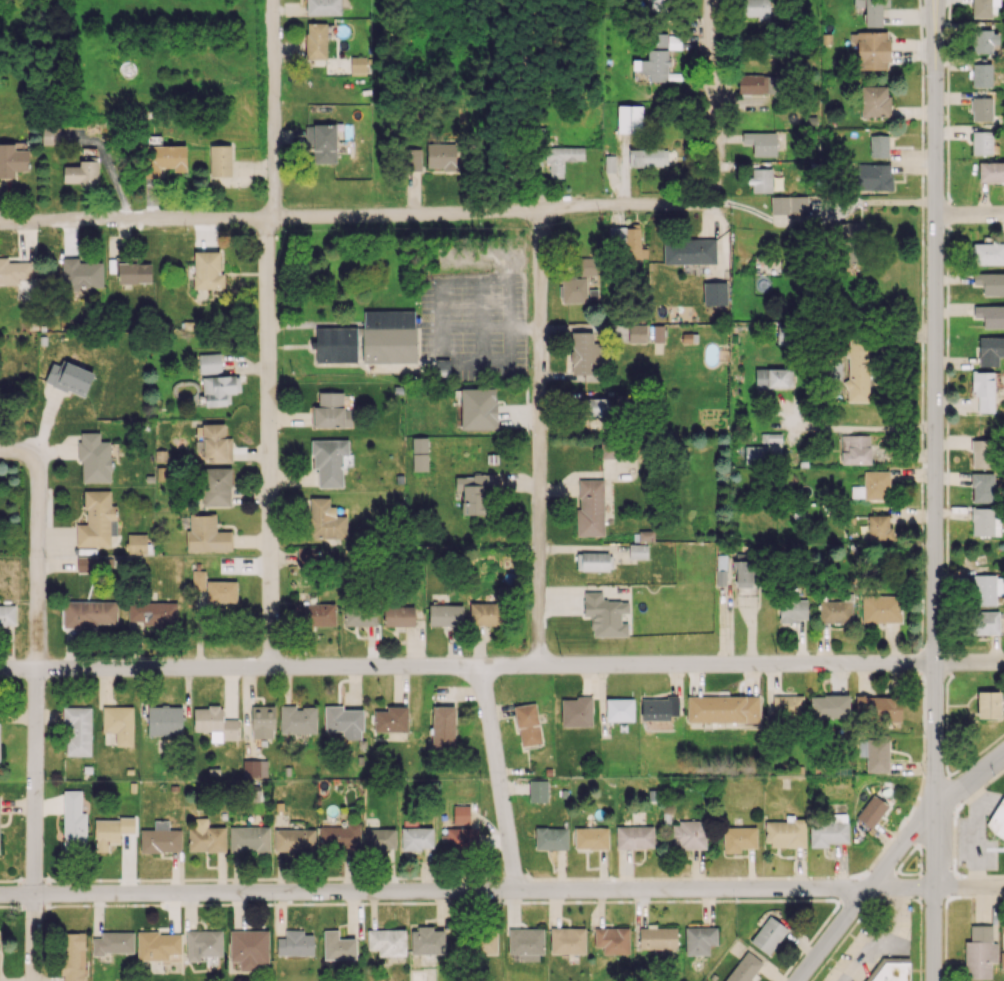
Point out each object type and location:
building: (659, 3)
building: (323, 7)
building: (983, 8)
building: (758, 9)
road: (949, 10)
building: (872, 11)
building: (316, 40)
building: (984, 40)
road: (948, 42)
building: (871, 49)
building: (657, 56)
building: (981, 75)
building: (752, 84)
road: (713, 97)
building: (875, 100)
building: (981, 108)
building: (629, 118)
road: (947, 134)
building: (51, 135)
building: (322, 142)
building: (761, 142)
building: (982, 142)
building: (878, 146)
building: (441, 155)
building: (652, 157)
building: (562, 158)
building: (164, 159)
building: (412, 159)
building: (12, 160)
building: (220, 160)
building: (609, 163)
building: (991, 171)
building: (82, 172)
building: (874, 176)
building: (761, 180)
building: (788, 204)
road: (948, 210)
road: (970, 214)
road: (355, 215)
road: (820, 215)
building: (850, 231)
road: (947, 232)
road: (237, 238)
building: (627, 241)
building: (689, 251)
building: (988, 254)
road: (947, 258)
building: (586, 266)
building: (207, 270)
building: (81, 273)
building: (134, 273)
building: (20, 276)
building: (990, 283)
building: (573, 289)
building: (715, 293)
road: (947, 298)
building: (990, 315)
road: (268, 333)
building: (637, 333)
building: (658, 333)
road: (947, 335)
building: (389, 336)
building: (336, 344)
building: (990, 350)
building: (583, 353)
road: (947, 359)
building: (209, 363)
building: (442, 367)
building: (858, 370)
road: (947, 372)
building: (69, 377)
building: (773, 377)
road: (946, 388)
building: (219, 389)
building: (983, 390)
road: (935, 404)
building: (597, 406)
road: (946, 407)
building: (478, 408)
building: (332, 411)
road: (946, 417)
road: (855, 426)
road: (539, 436)
building: (214, 443)
building: (610, 449)
building: (765, 449)
building: (856, 449)
road: (15, 451)
building: (982, 453)
building: (419, 454)
building: (94, 457)
building: (330, 461)
road: (947, 467)
building: (216, 486)
building: (872, 486)
building: (982, 487)
building: (473, 492)
building: (590, 508)
building: (325, 519)
building: (97, 520)
building: (984, 522)
road: (946, 525)
building: (879, 527)
building: (207, 534)
building: (646, 535)
building: (137, 544)
building: (638, 551)
road: (946, 556)
building: (307, 558)
building: (592, 561)
building: (88, 564)
building: (721, 569)
building: (743, 573)
building: (198, 579)
building: (983, 589)
building: (221, 591)
building: (881, 609)
building: (793, 610)
building: (835, 611)
building: (152, 612)
building: (90, 613)
building: (315, 614)
building: (486, 614)
road: (945, 614)
building: (360, 615)
building: (446, 615)
building: (605, 615)
building: (7, 616)
building: (398, 616)
building: (984, 622)
road: (969, 661)
road: (467, 666)
road: (946, 700)
building: (988, 704)
building: (829, 706)
building: (787, 707)
building: (878, 707)
building: (658, 708)
building: (723, 708)
building: (619, 709)
building: (576, 711)
road: (36, 718)
building: (297, 719)
building: (391, 719)
building: (164, 720)
building: (262, 721)
building: (344, 721)
building: (119, 723)
building: (215, 723)
building: (527, 724)
building: (443, 727)
building: (77, 730)
road: (988, 744)
road: (946, 748)
building: (877, 754)
road: (964, 764)
building: (254, 768)
road: (951, 774)
road: (498, 777)
road: (970, 781)
road: (950, 787)
road: (980, 787)
building: (538, 790)
building: (872, 811)
building: (461, 814)
building: (997, 819)
building: (73, 822)
building: (828, 830)
building: (111, 831)
building: (786, 832)
building: (688, 833)
building: (206, 836)
building: (339, 837)
building: (634, 837)
building: (160, 838)
building: (417, 838)
building: (459, 838)
building: (551, 838)
building: (591, 838)
building: (739, 838)
building: (249, 839)
building: (294, 839)
building: (380, 839)
road: (954, 840)
road: (981, 875)
road: (950, 883)
road: (970, 886)
road: (468, 889)
road: (863, 892)
road: (936, 894)
road: (975, 895)
road: (945, 930)
building: (768, 934)
building: (657, 937)
road: (878, 938)
building: (699, 939)
building: (427, 940)
building: (567, 940)
building: (612, 940)
building: (387, 941)
building: (113, 942)
building: (295, 943)
building: (479, 943)
building: (526, 943)
building: (203, 944)
building: (157, 945)
building: (338, 946)
building: (249, 948)
building: (979, 952)
building: (73, 956)
building: (744, 968)
building: (891, 970)
road: (944, 973)

